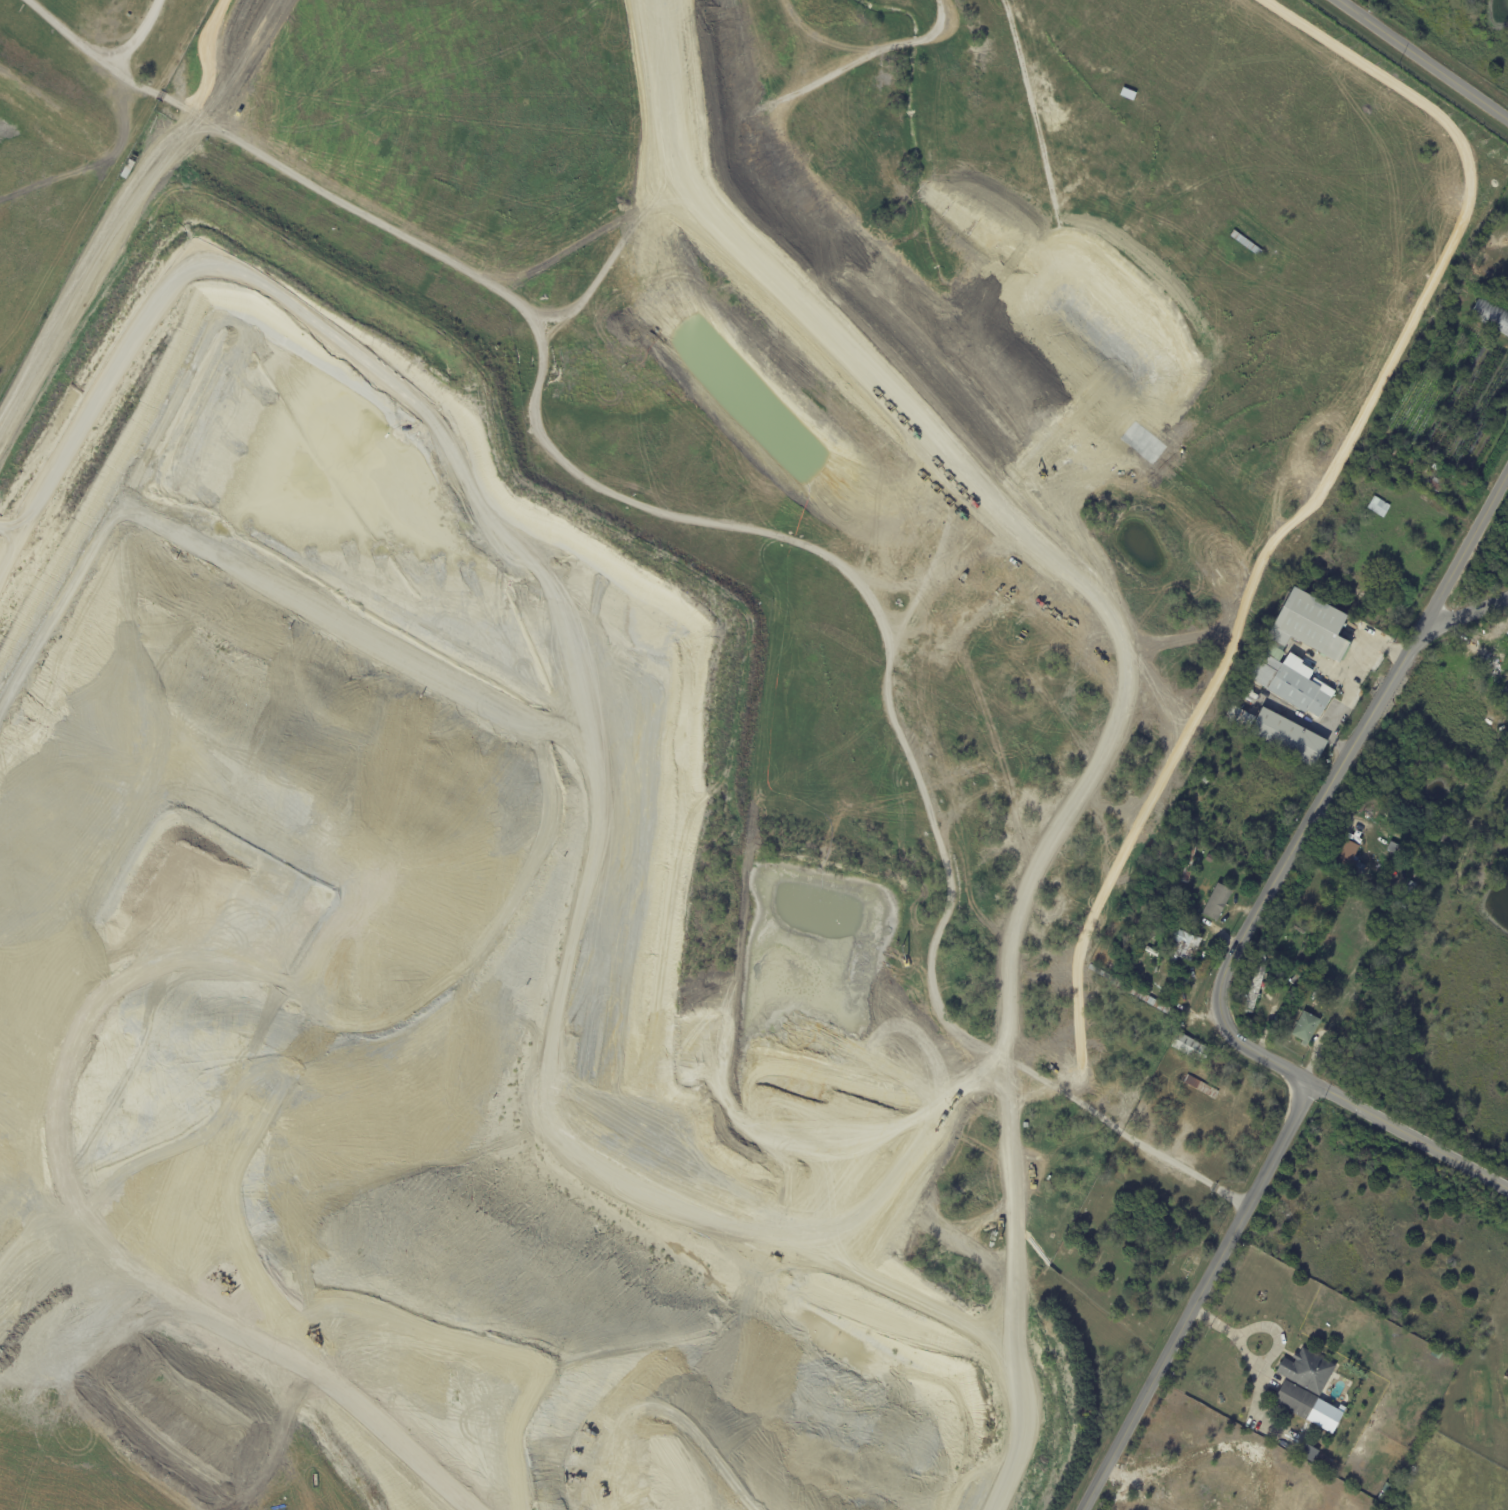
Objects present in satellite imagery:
road: (132, 35)
road: (1425, 59)
building: (129, 167)
building: (1247, 243)
building: (1491, 309)
building: (1392, 451)
building: (1440, 468)
building: (1439, 485)
building: (1380, 506)
road: (739, 528)
building: (261, 566)
road: (1468, 602)
building: (1315, 625)
building: (1507, 643)
road: (1349, 679)
building: (1292, 680)
building: (1241, 717)
building: (1291, 737)
building: (1362, 808)
building: (1374, 814)
building: (1446, 836)
building: (1395, 848)
building: (1351, 855)
building: (1209, 857)
building: (1432, 861)
building: (1190, 863)
building: (1366, 886)
building: (1411, 889)
building: (1375, 890)
road: (1265, 892)
building: (1217, 902)
building: (1404, 904)
building: (1186, 946)
building: (1099, 971)
building: (1114, 980)
building: (1298, 980)
building: (1178, 984)
building: (1257, 987)
building: (1146, 998)
building: (1249, 1011)
building: (1308, 1028)
building: (1192, 1048)
building: (1202, 1087)
park: (1132, 1248)
road: (1198, 1296)
building: (1309, 1370)
landfill: (225, 1379)
building: (1298, 1399)
building: (1309, 1451)
building: (1322, 1462)
building: (1385, 1494)
building: (1389, 1508)
landfill: (754, 1509)

